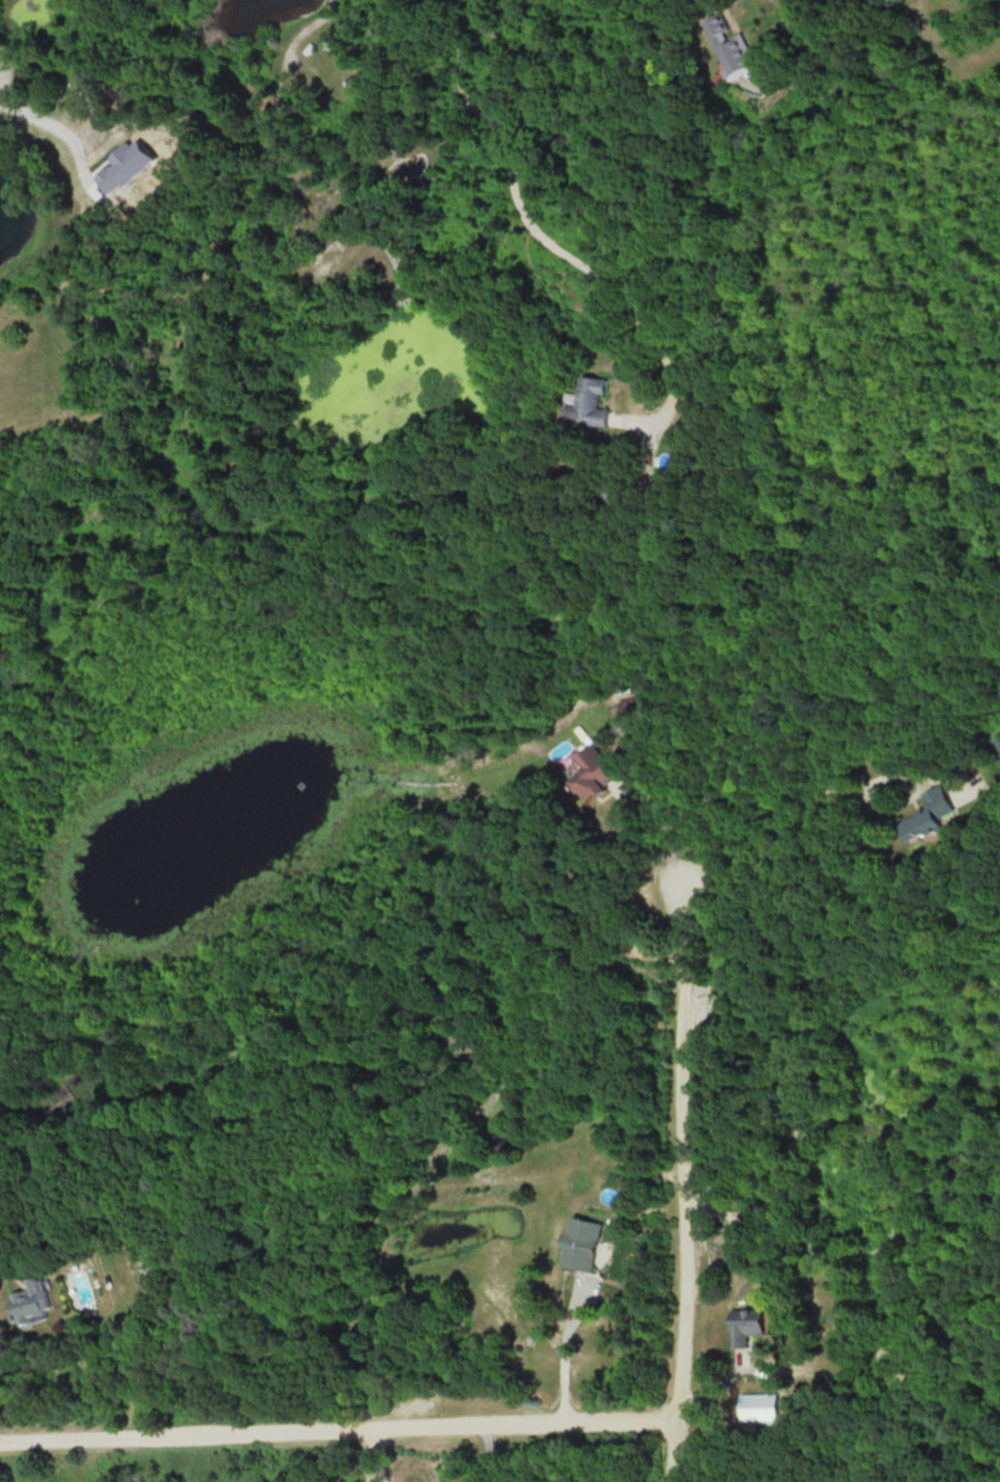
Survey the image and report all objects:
building: (732, 48)
building: (126, 165)
road: (542, 239)
building: (591, 401)
building: (591, 773)
building: (930, 814)
road: (679, 1175)
building: (580, 1244)
building: (31, 1302)
building: (745, 1325)
road: (561, 1350)
building: (758, 1406)
road: (489, 1418)
road: (153, 1428)
road: (370, 1452)
road: (486, 1452)

